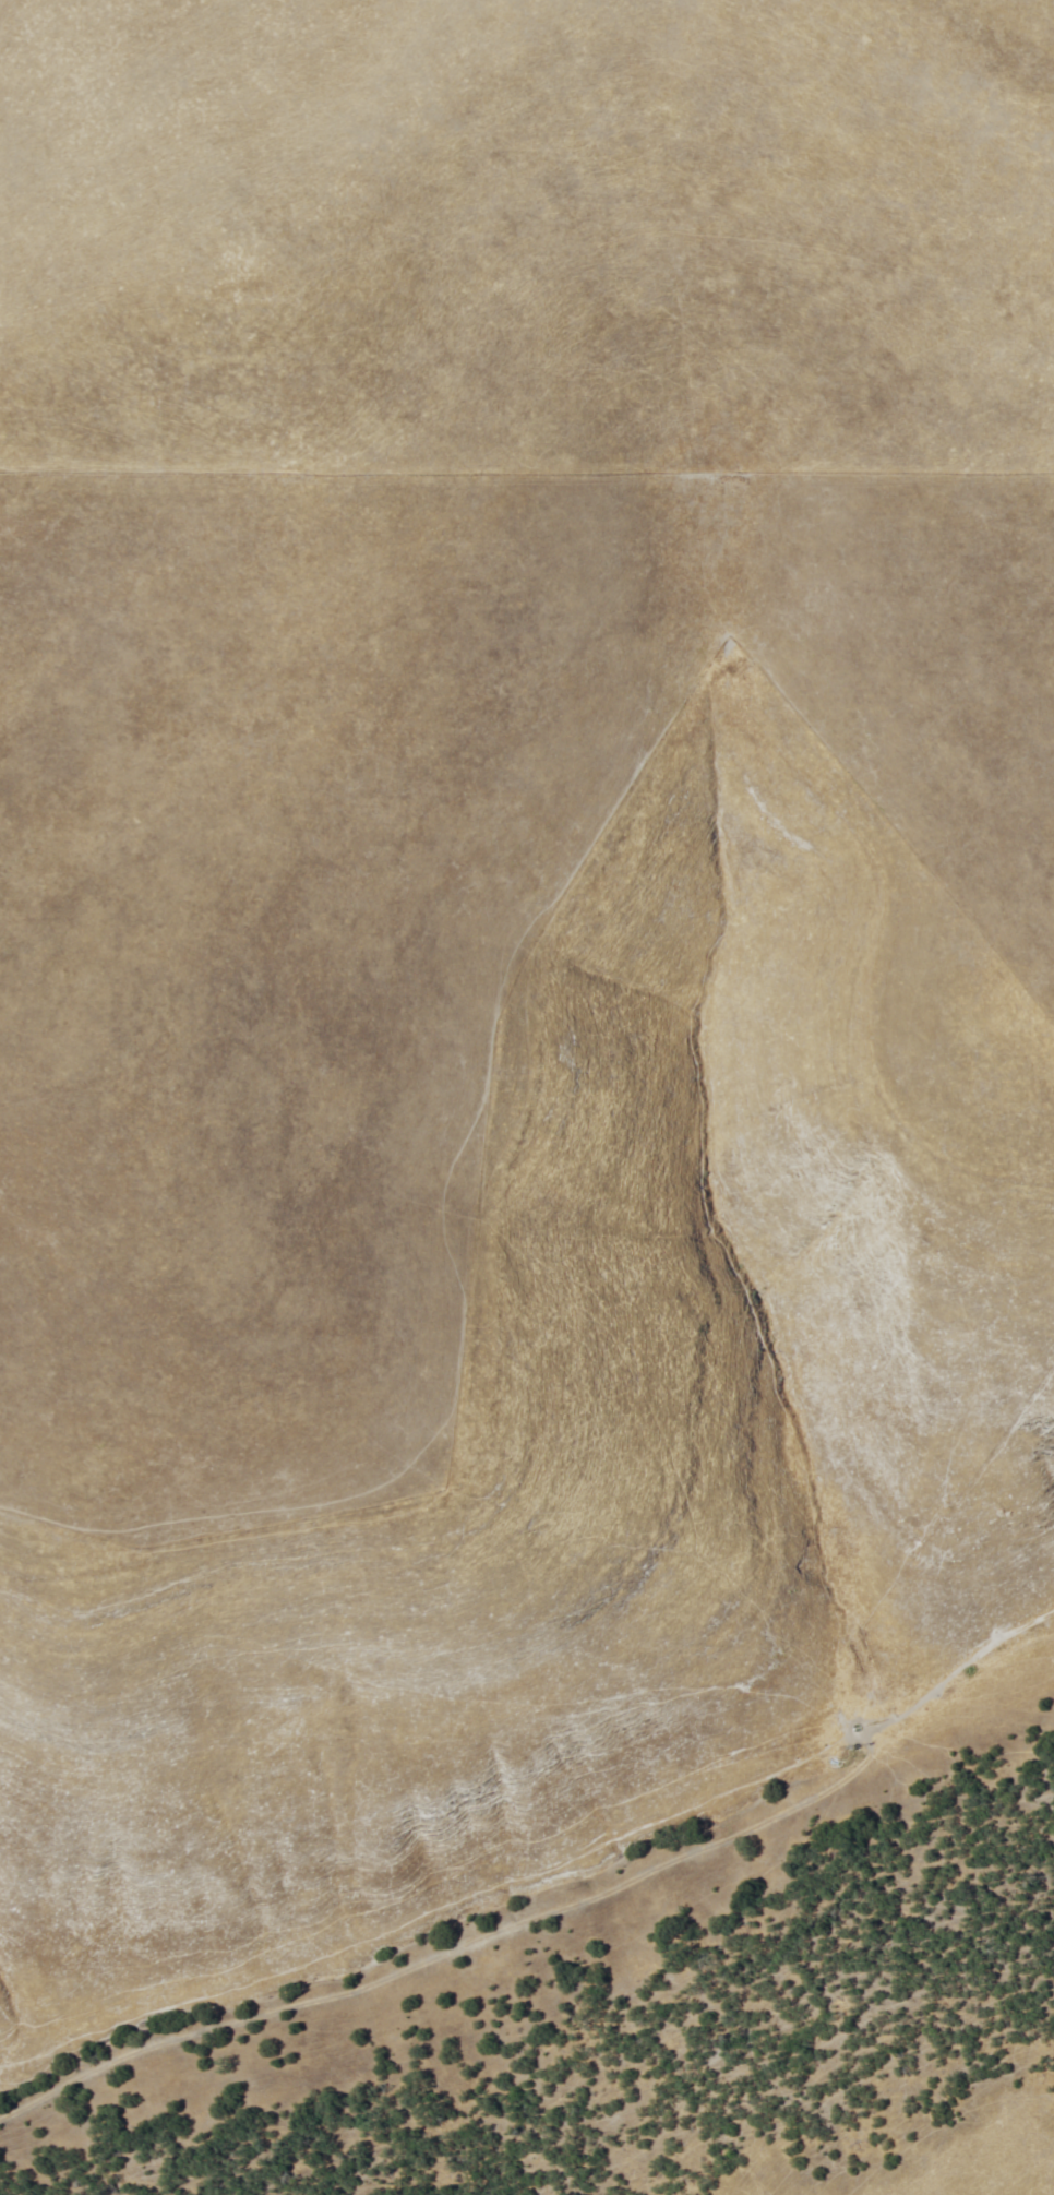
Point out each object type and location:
road: (451, 1971)

